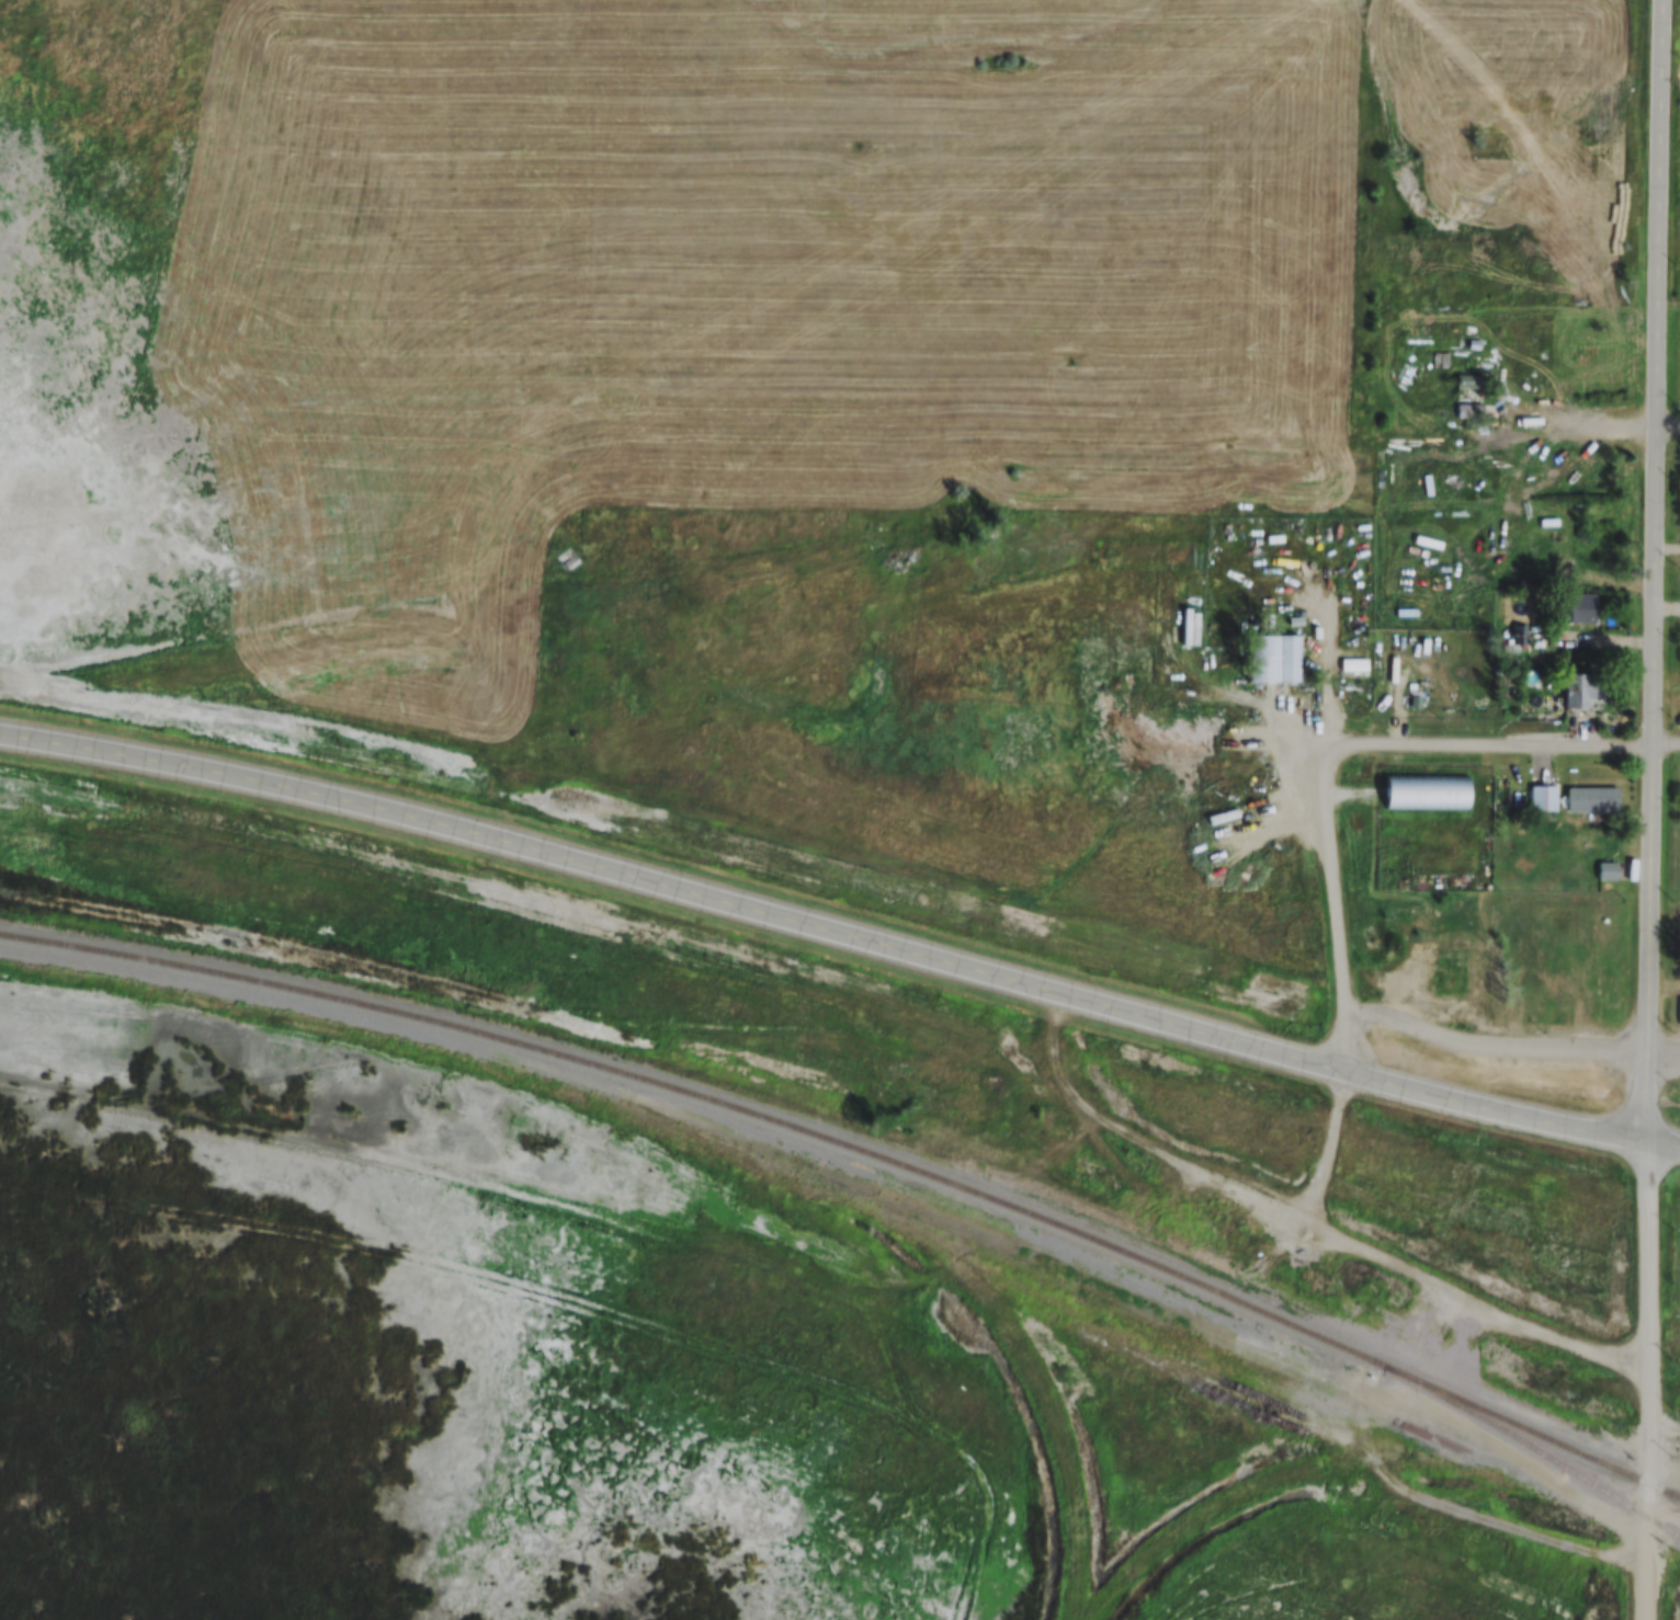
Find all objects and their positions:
building: (1441, 360)
building: (1471, 422)
road: (1612, 430)
road: (1667, 430)
building: (1552, 543)
building: (567, 558)
road: (1653, 570)
building: (1581, 608)
building: (1519, 635)
building: (1273, 658)
building: (1583, 688)
road: (1264, 705)
road: (1486, 746)
road: (1665, 748)
building: (1427, 790)
building: (1543, 797)
building: (1593, 798)
building: (1608, 869)
road: (1336, 916)
road: (841, 934)
road: (1498, 1050)
road: (1664, 1052)
railway: (861, 1146)
road: (1329, 1146)
railway: (861, 1183)
road: (1306, 1221)
road: (1196, 1222)
road: (1649, 1379)
railway: (1673, 1540)

